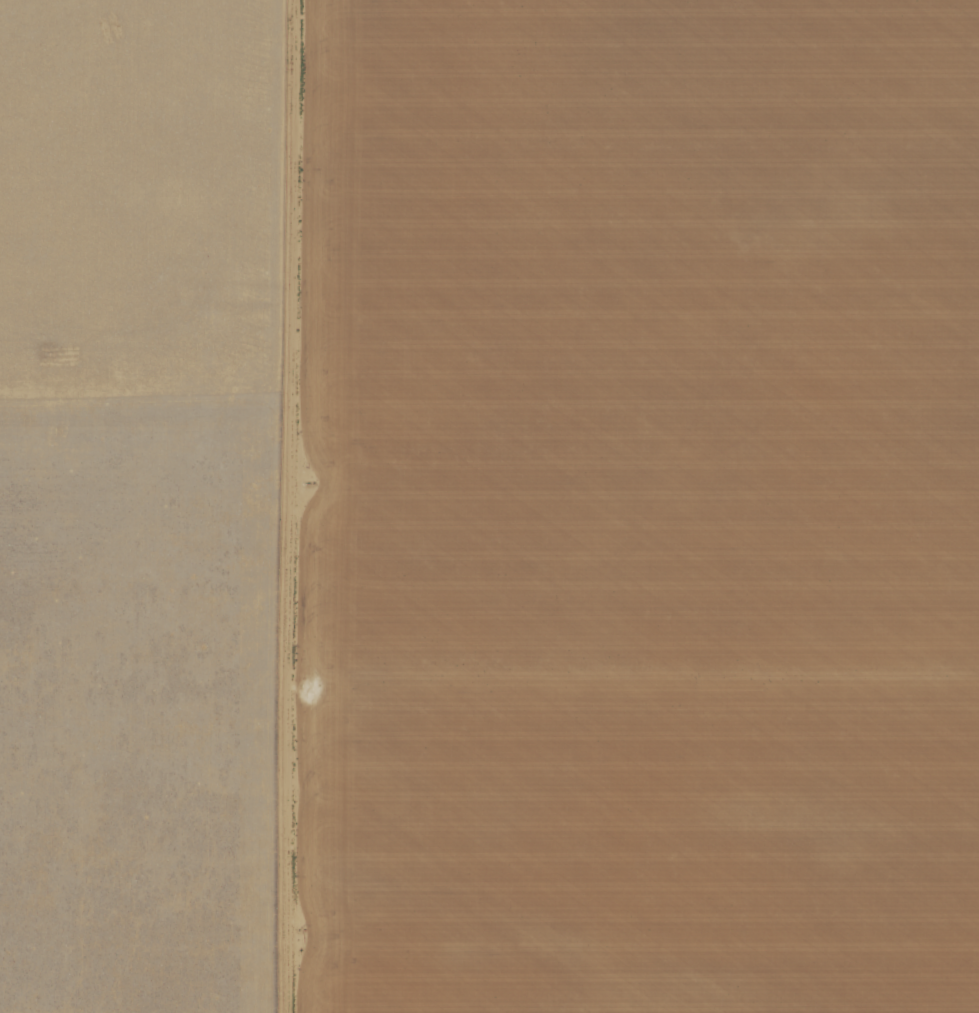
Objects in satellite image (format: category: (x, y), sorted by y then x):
road: (147, 442)
road: (294, 506)
road: (635, 749)

